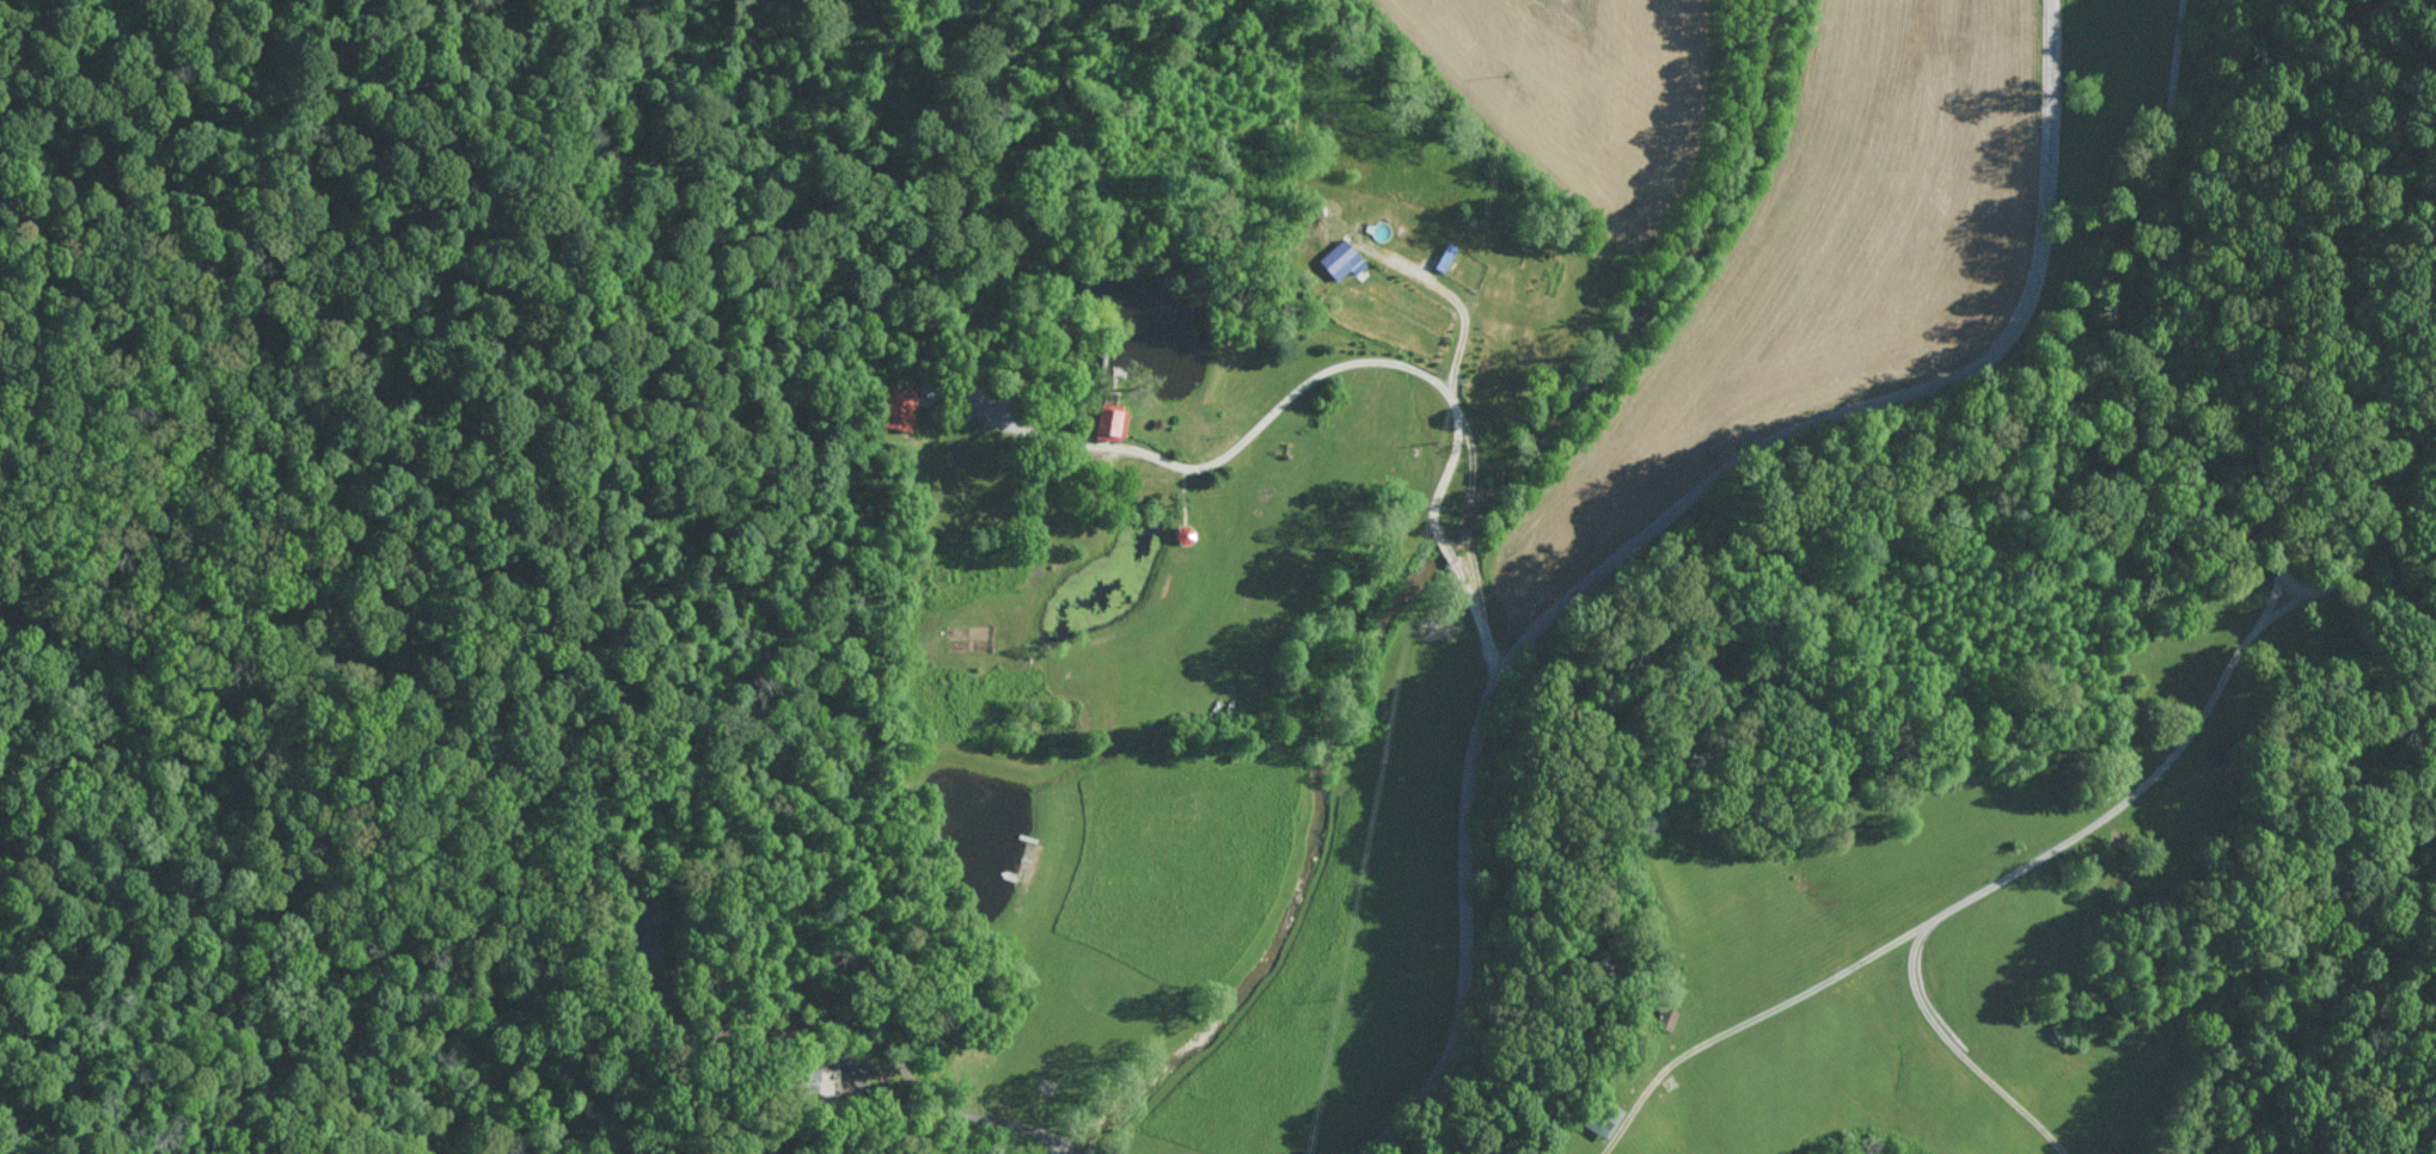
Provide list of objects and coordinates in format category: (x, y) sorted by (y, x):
building: (1342, 259)
road: (1464, 312)
road: (1378, 362)
building: (896, 405)
building: (1107, 421)
road: (1069, 434)
road: (2379, 520)
road: (1663, 521)
road: (1451, 551)
road: (2290, 579)
road: (1483, 621)
road: (2202, 718)
building: (1667, 1014)
road: (1959, 1050)
road: (865, 1084)
road: (1069, 1148)

